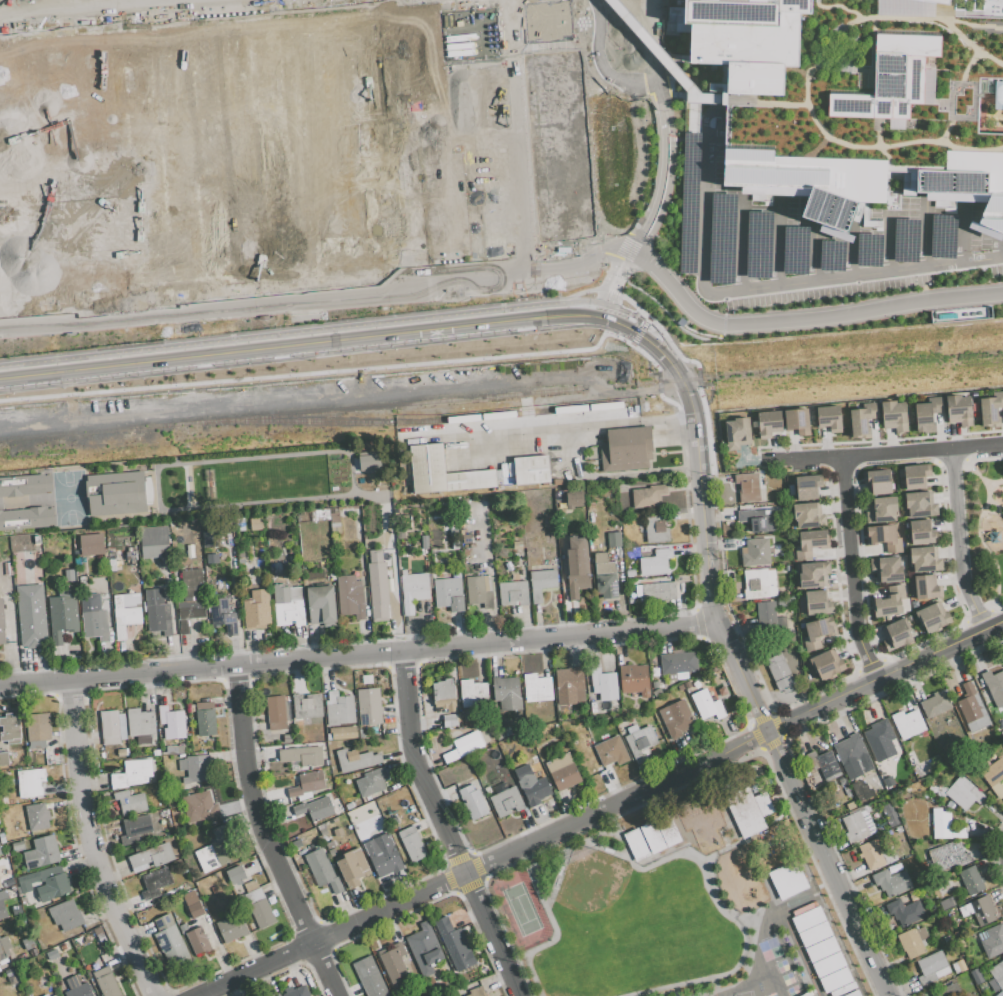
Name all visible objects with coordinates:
park: (9, 4)
park: (42, 4)
road: (837, 5)
solar farm: (742, 9)
road: (168, 11)
road: (324, 14)
road: (973, 24)
park: (157, 25)
road: (623, 28)
road: (25, 30)
park: (6, 34)
road: (24, 34)
road: (652, 40)
road: (582, 43)
park: (427, 45)
building: (409, 54)
road: (664, 58)
road: (965, 65)
road: (559, 69)
park: (33, 71)
park: (0, 74)
road: (593, 78)
road: (267, 79)
road: (806, 79)
road: (972, 83)
park: (882, 85)
road: (167, 87)
building: (859, 98)
street lamp: (679, 99)
road: (758, 102)
street lamp: (673, 109)
road: (584, 121)
road: (945, 129)
street lamp: (676, 133)
road: (877, 142)
road: (291, 144)
building: (562, 146)
park: (350, 148)
street lamp: (677, 153)
road: (640, 156)
building: (187, 159)
park: (531, 165)
road: (663, 172)
street lamp: (675, 177)
road: (453, 182)
road: (410, 194)
road: (310, 196)
road: (592, 200)
street lamp: (669, 202)
park: (671, 202)
street lamp: (662, 221)
park: (317, 233)
road: (924, 235)
parking lot: (816, 237)
road: (739, 241)
road: (777, 241)
street lamp: (653, 242)
road: (886, 244)
street lamp: (971, 251)
road: (813, 255)
road: (292, 258)
road: (848, 260)
street lamp: (632, 274)
street lamp: (943, 274)
road: (612, 279)
road: (775, 285)
road: (671, 287)
road: (607, 290)
street lamp: (897, 290)
road: (581, 291)
street lamp: (856, 296)
road: (322, 297)
building: (83, 301)
street lamp: (808, 302)
road: (850, 310)
street lamp: (892, 318)
street lamp: (686, 322)
road: (344, 327)
street lamp: (785, 333)
street lamp: (523, 334)
road: (637, 335)
road: (332, 341)
railway: (983, 361)
park: (337, 362)
street lamp: (653, 363)
road: (670, 363)
railway: (818, 367)
road: (659, 395)
street lamp: (705, 397)
railway: (418, 402)
building: (959, 410)
building: (991, 410)
building: (893, 415)
building: (927, 415)
building: (829, 418)
building: (863, 420)
railway: (415, 421)
building: (797, 421)
building: (768, 424)
road: (556, 427)
railway: (101, 429)
building: (738, 433)
street lamp: (979, 436)
road: (874, 440)
street lamp: (913, 441)
street lamp: (849, 446)
road: (978, 447)
building: (627, 449)
street lamp: (784, 449)
parking lot: (989, 452)
road: (886, 455)
road: (968, 455)
road: (790, 460)
road: (986, 461)
building: (368, 462)
building: (531, 470)
building: (442, 472)
street lamp: (969, 473)
road: (610, 475)
building: (916, 476)
street lamp: (998, 478)
building: (877, 482)
road: (996, 483)
building: (23, 484)
building: (747, 487)
building: (808, 487)
street lamp: (944, 487)
street lamp: (999, 492)
building: (115, 493)
building: (648, 496)
street lamp: (850, 496)
park: (68, 497)
building: (573, 498)
building: (920, 504)
building: (883, 509)
road: (995, 510)
building: (808, 515)
road: (959, 516)
building: (26, 518)
building: (758, 520)
building: (256, 523)
building: (656, 527)
park: (986, 528)
building: (922, 532)
street lamp: (975, 535)
building: (887, 536)
building: (211, 538)
building: (612, 538)
road: (982, 538)
building: (154, 542)
building: (273, 542)
building: (810, 543)
building: (92, 544)
street lamp: (967, 545)
building: (755, 552)
building: (925, 558)
street lamp: (858, 559)
road: (708, 561)
building: (655, 562)
building: (275, 566)
building: (577, 568)
building: (889, 569)
road: (854, 571)
building: (813, 574)
building: (69, 575)
building: (605, 576)
street lamp: (972, 580)
building: (377, 583)
building: (542, 583)
building: (759, 583)
building: (927, 587)
building: (413, 590)
building: (514, 590)
building: (656, 591)
building: (480, 592)
building: (449, 594)
building: (350, 596)
building: (190, 597)
road: (972, 597)
street lamp: (991, 597)
building: (817, 603)
building: (890, 603)
building: (288, 604)
building: (321, 604)
building: (257, 610)
building: (157, 611)
building: (126, 612)
building: (62, 614)
building: (31, 616)
building: (223, 616)
road: (978, 616)
building: (933, 617)
road: (998, 619)
building: (769, 620)
road: (984, 622)
road: (699, 623)
building: (2, 624)
road: (710, 626)
building: (100, 628)
street lamp: (864, 629)
street lamp: (958, 629)
building: (818, 632)
road: (945, 632)
building: (897, 633)
road: (739, 634)
street lamp: (921, 646)
road: (349, 653)
street lamp: (944, 661)
road: (108, 663)
building: (679, 663)
road: (402, 664)
building: (827, 664)
road: (870, 666)
road: (310, 670)
building: (779, 673)
building: (634, 679)
road: (886, 679)
street lamp: (904, 680)
building: (603, 684)
building: (994, 686)
building: (537, 687)
building: (570, 687)
building: (507, 692)
building: (473, 693)
building: (444, 695)
street lamp: (804, 701)
building: (935, 704)
building: (706, 705)
building: (369, 706)
street lamp: (847, 706)
building: (307, 708)
building: (339, 709)
building: (972, 709)
building: (278, 712)
street lamp: (749, 716)
building: (679, 718)
building: (206, 719)
building: (172, 722)
building: (443, 722)
building: (907, 723)
building: (141, 725)
building: (112, 727)
building: (38, 728)
building: (11, 729)
building: (1001, 730)
building: (342, 733)
building: (879, 733)
building: (640, 743)
building: (465, 746)
road: (761, 747)
building: (552, 748)
road: (786, 749)
building: (610, 750)
building: (301, 756)
building: (853, 756)
building: (4, 757)
building: (356, 759)
building: (824, 764)
road: (420, 766)
building: (195, 769)
building: (132, 773)
building: (994, 776)
building: (566, 779)
building: (371, 782)
road: (683, 782)
road: (630, 783)
building: (27, 784)
building: (307, 784)
building: (532, 785)
building: (963, 793)
building: (130, 802)
building: (474, 802)
building: (507, 802)
road: (619, 806)
building: (199, 808)
building: (316, 808)
building: (748, 811)
building: (888, 814)
building: (37, 816)
building: (394, 821)
building: (946, 825)
building: (855, 827)
building: (135, 828)
building: (666, 829)
building: (338, 832)
road: (266, 836)
building: (651, 837)
road: (91, 842)
building: (412, 843)
building: (296, 844)
building: (635, 844)
building: (2, 849)
road: (994, 849)
building: (213, 851)
building: (42, 852)
building: (874, 852)
building: (383, 856)
building: (948, 857)
building: (150, 858)
road: (827, 865)
building: (353, 867)
building: (321, 870)
building: (235, 874)
road: (484, 879)
building: (788, 880)
building: (971, 880)
building: (891, 882)
building: (155, 883)
building: (43, 885)
building: (946, 903)
building: (193, 904)
building: (258, 905)
building: (2, 910)
building: (979, 910)
building: (905, 911)
park: (521, 912)
building: (65, 915)
building: (231, 927)
park: (629, 927)
road: (476, 931)
road: (494, 935)
road: (335, 936)
building: (195, 937)
building: (170, 941)
building: (913, 941)
building: (993, 941)
building: (29, 944)
building: (454, 944)
building: (4, 947)
building: (425, 949)
building: (822, 950)
building: (394, 963)
building: (958, 966)
building: (931, 968)
building: (996, 976)
building: (369, 977)
building: (976, 977)
building: (104, 980)
building: (76, 987)
building: (297, 991)
building: (948, 991)
building: (476, 992)
building: (853, 993)
building: (45, 995)
building: (53, 995)

